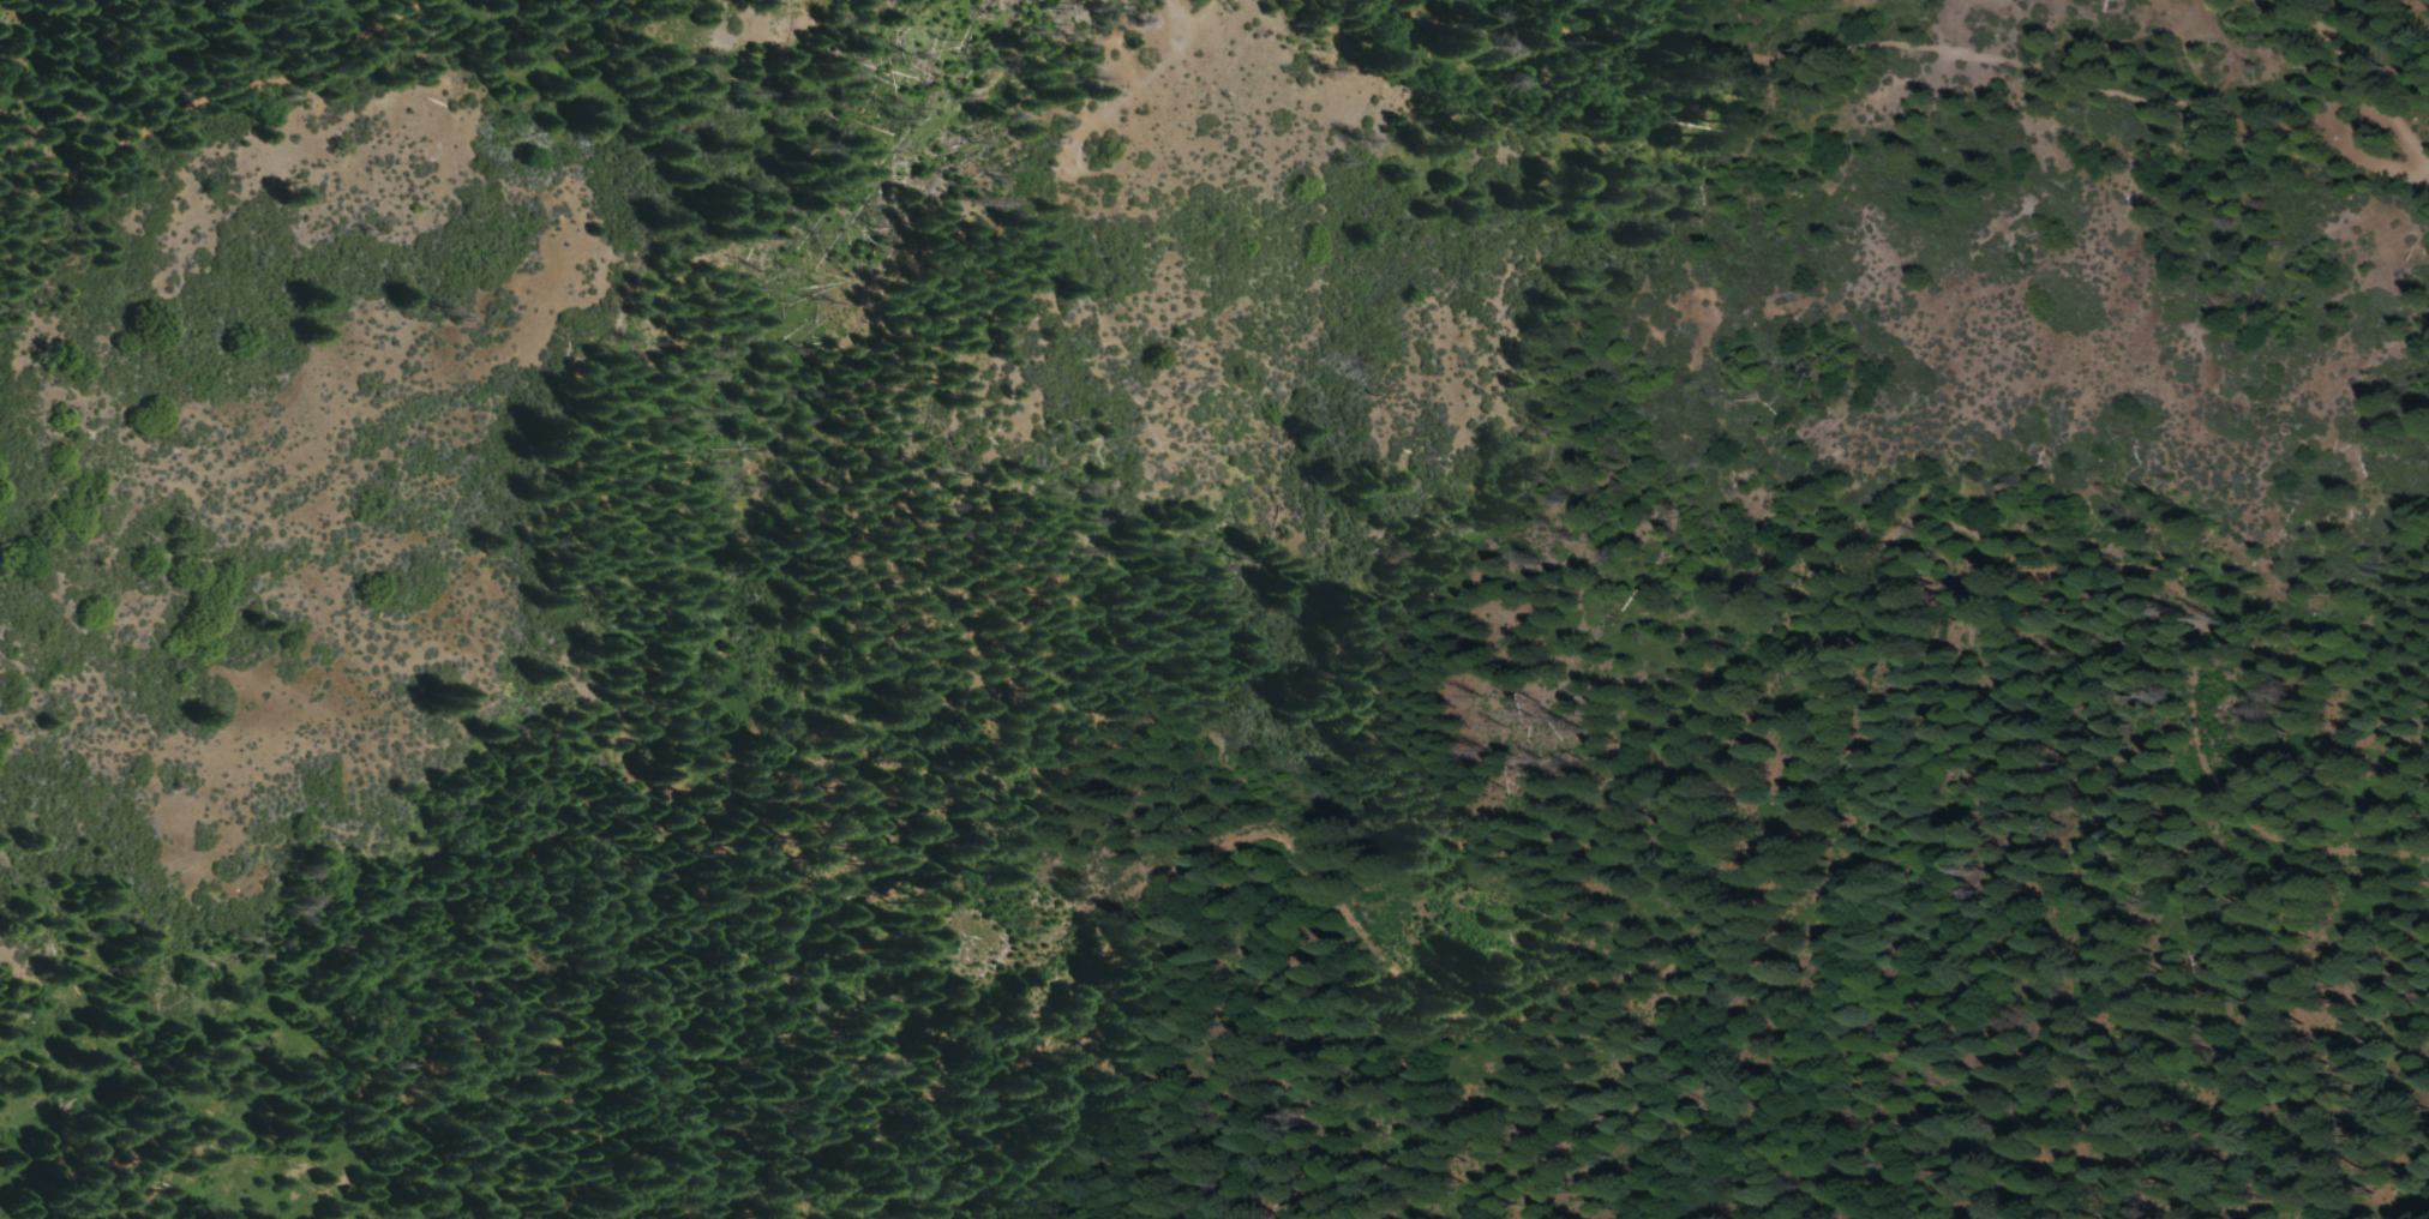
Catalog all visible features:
road: (1841, 38)
road: (2364, 68)
road: (209, 95)

